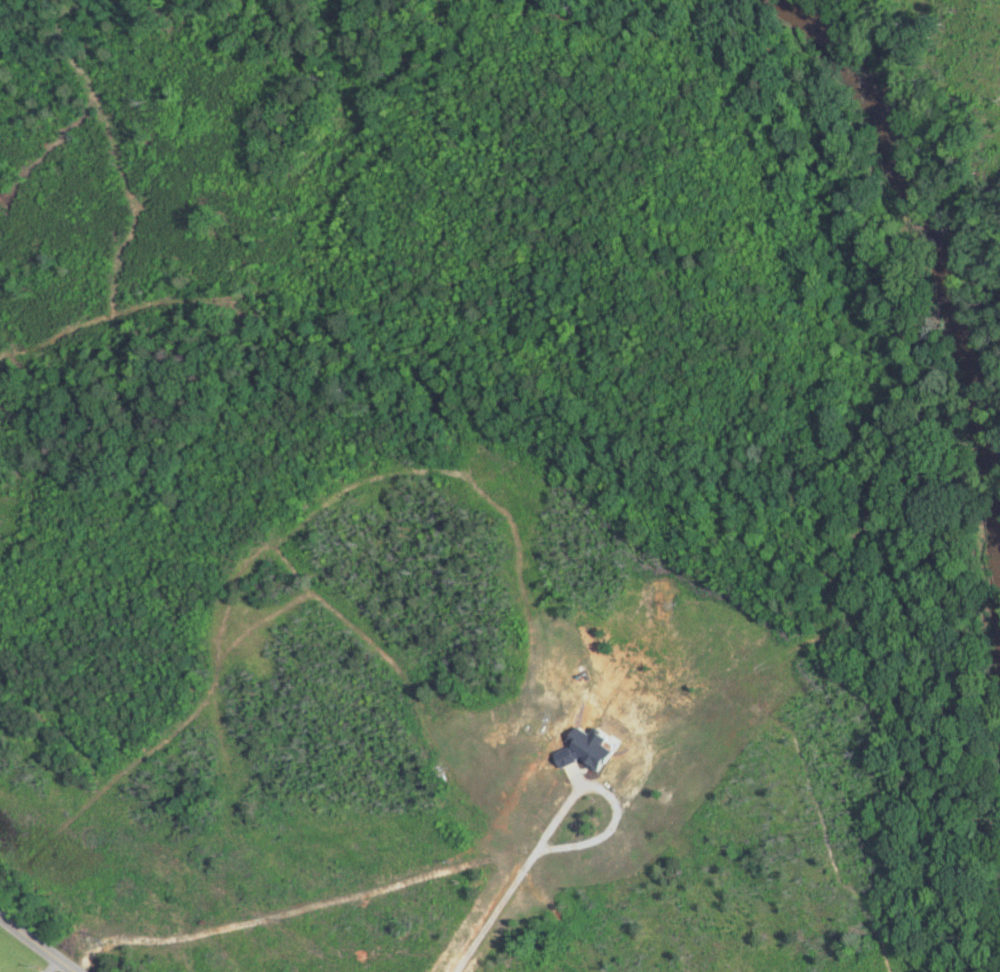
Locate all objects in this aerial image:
road: (37, 937)

